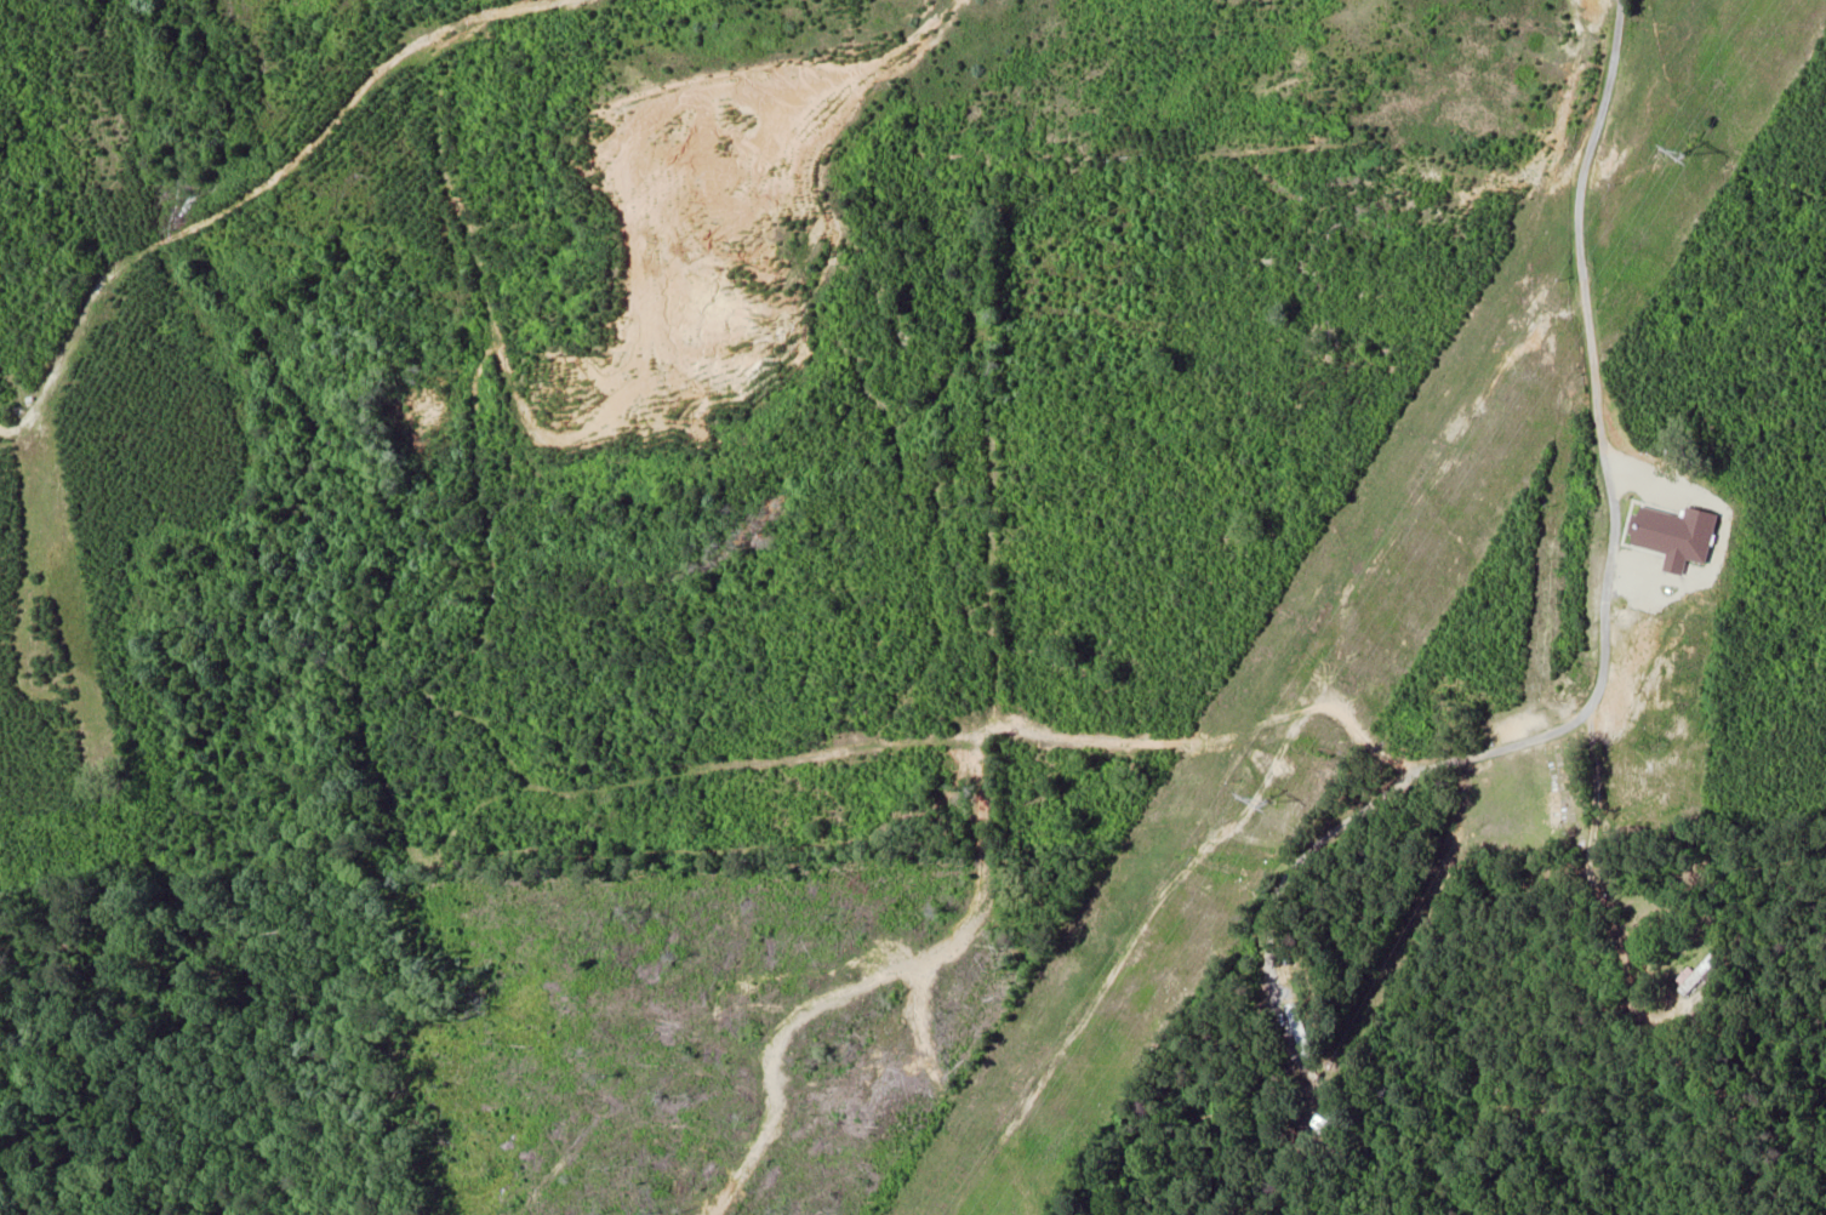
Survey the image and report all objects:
power tower: (1687, 154)
building: (1676, 534)
road: (1594, 694)
power tower: (1267, 800)
building: (1702, 974)

